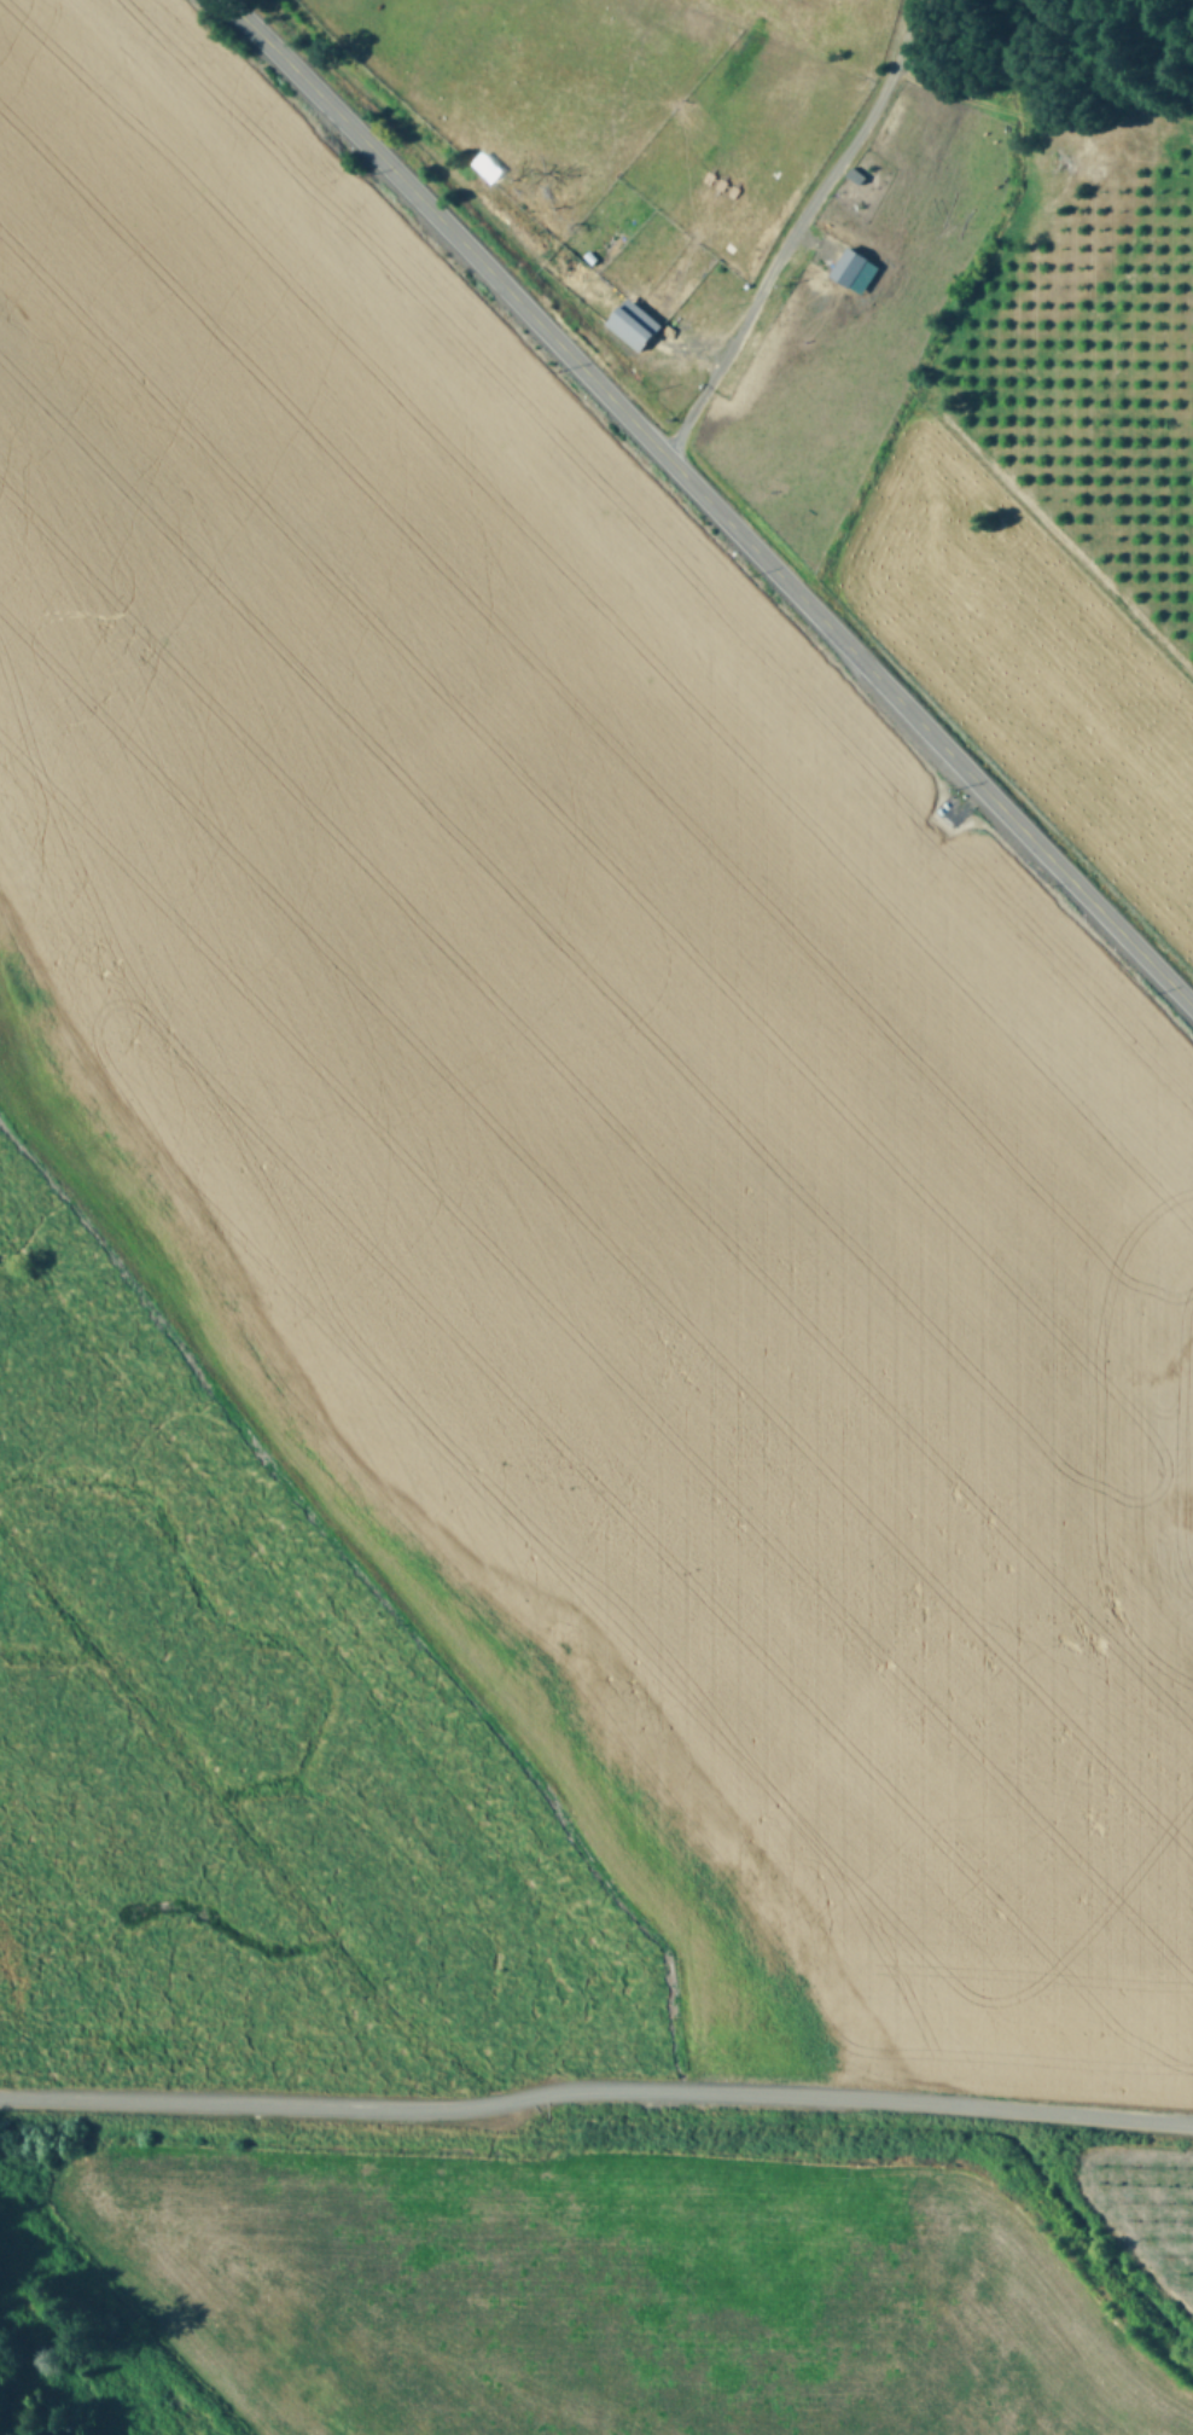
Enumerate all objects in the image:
road: (799, 229)
building: (857, 269)
building: (636, 324)
crop: (804, 348)
road: (709, 501)
crop: (545, 1396)
road: (594, 2086)

